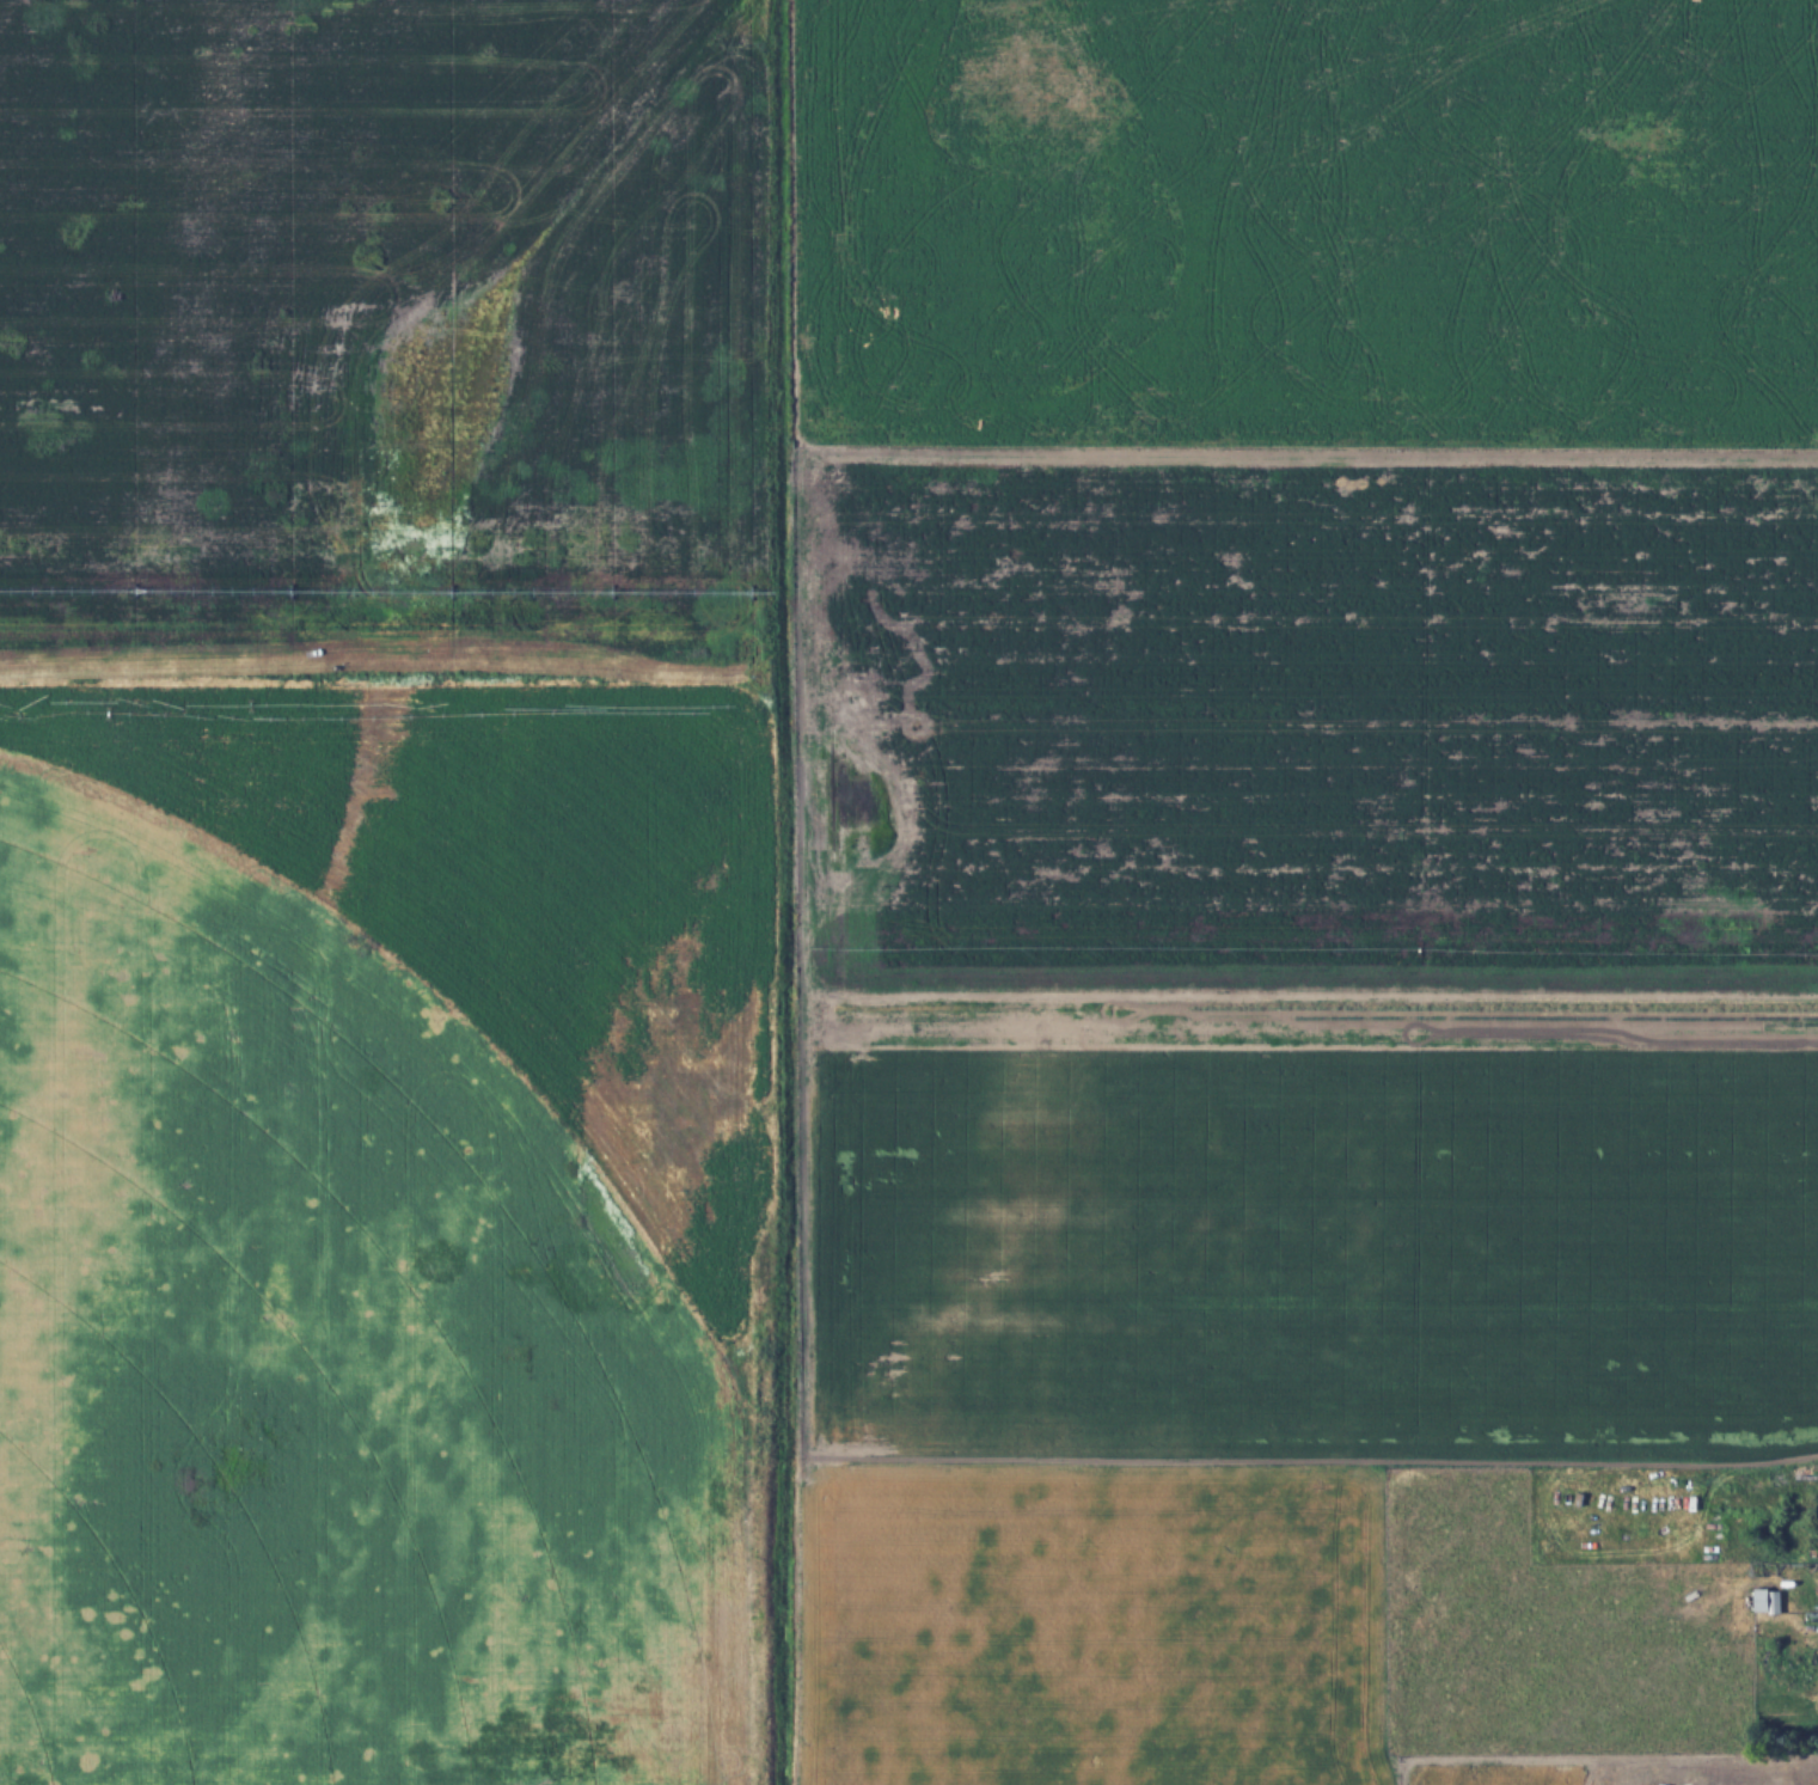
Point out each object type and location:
crop: (1321, 1227)
crop: (329, 1359)
building: (1769, 1600)
crop: (1106, 1620)

